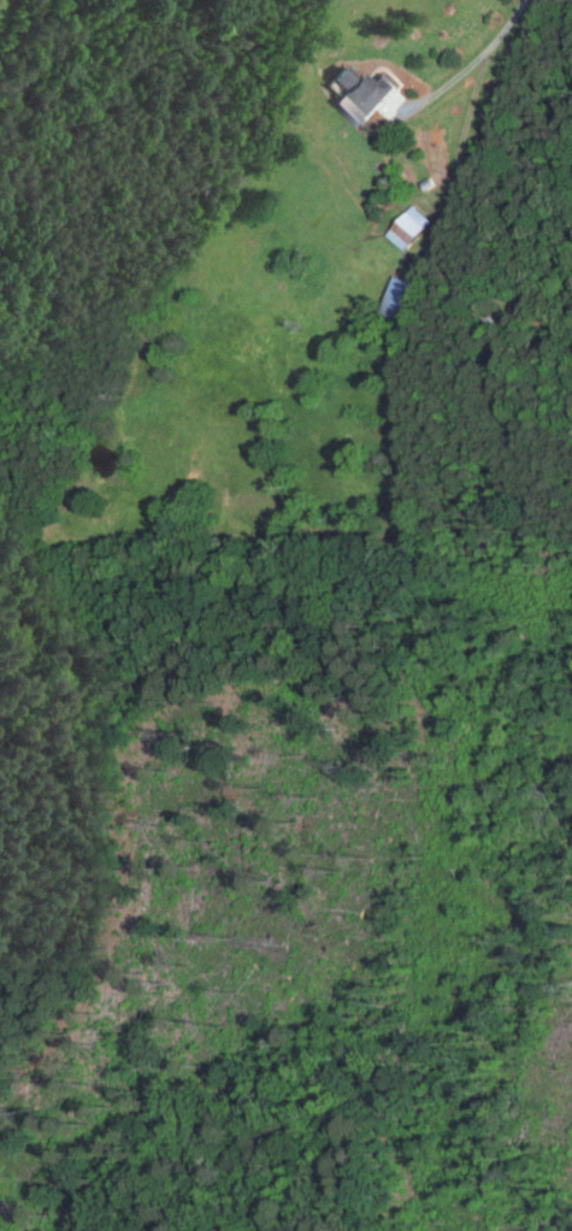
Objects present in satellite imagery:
road: (506, 25)
building: (356, 93)
road: (406, 185)
building: (405, 226)

